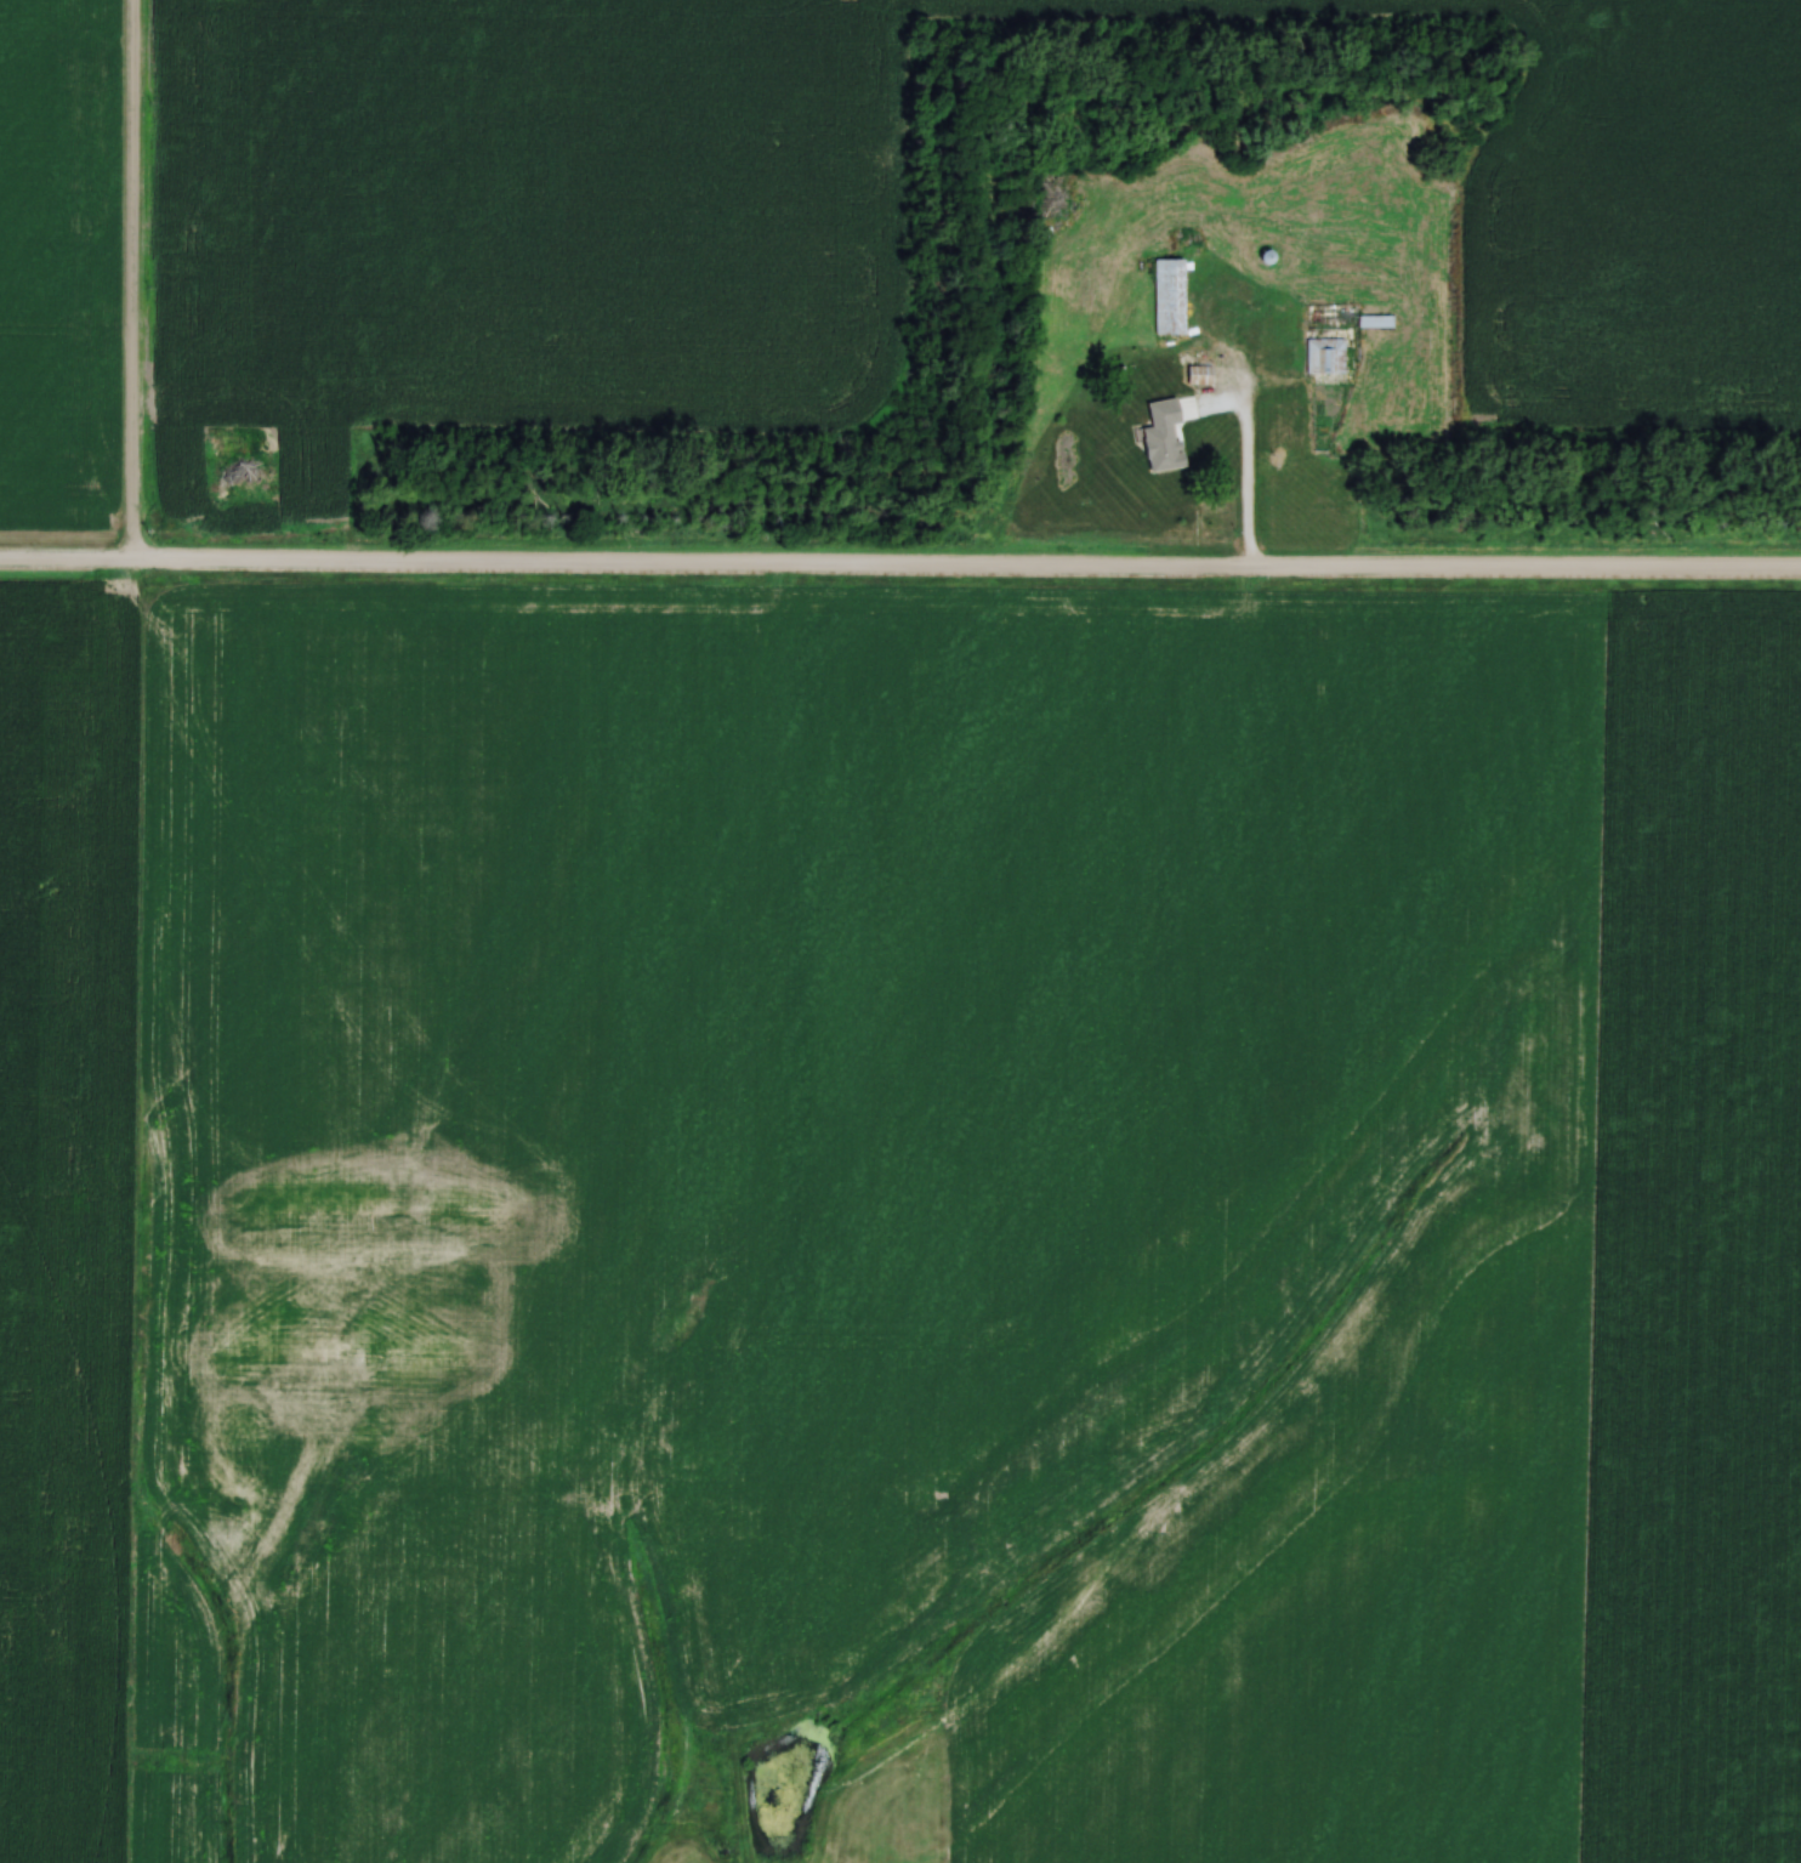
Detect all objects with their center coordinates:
road: (129, 282)
building: (1167, 299)
building: (1374, 323)
building: (1324, 357)
building: (1197, 376)
building: (1197, 445)
road: (1244, 476)
road: (899, 568)

